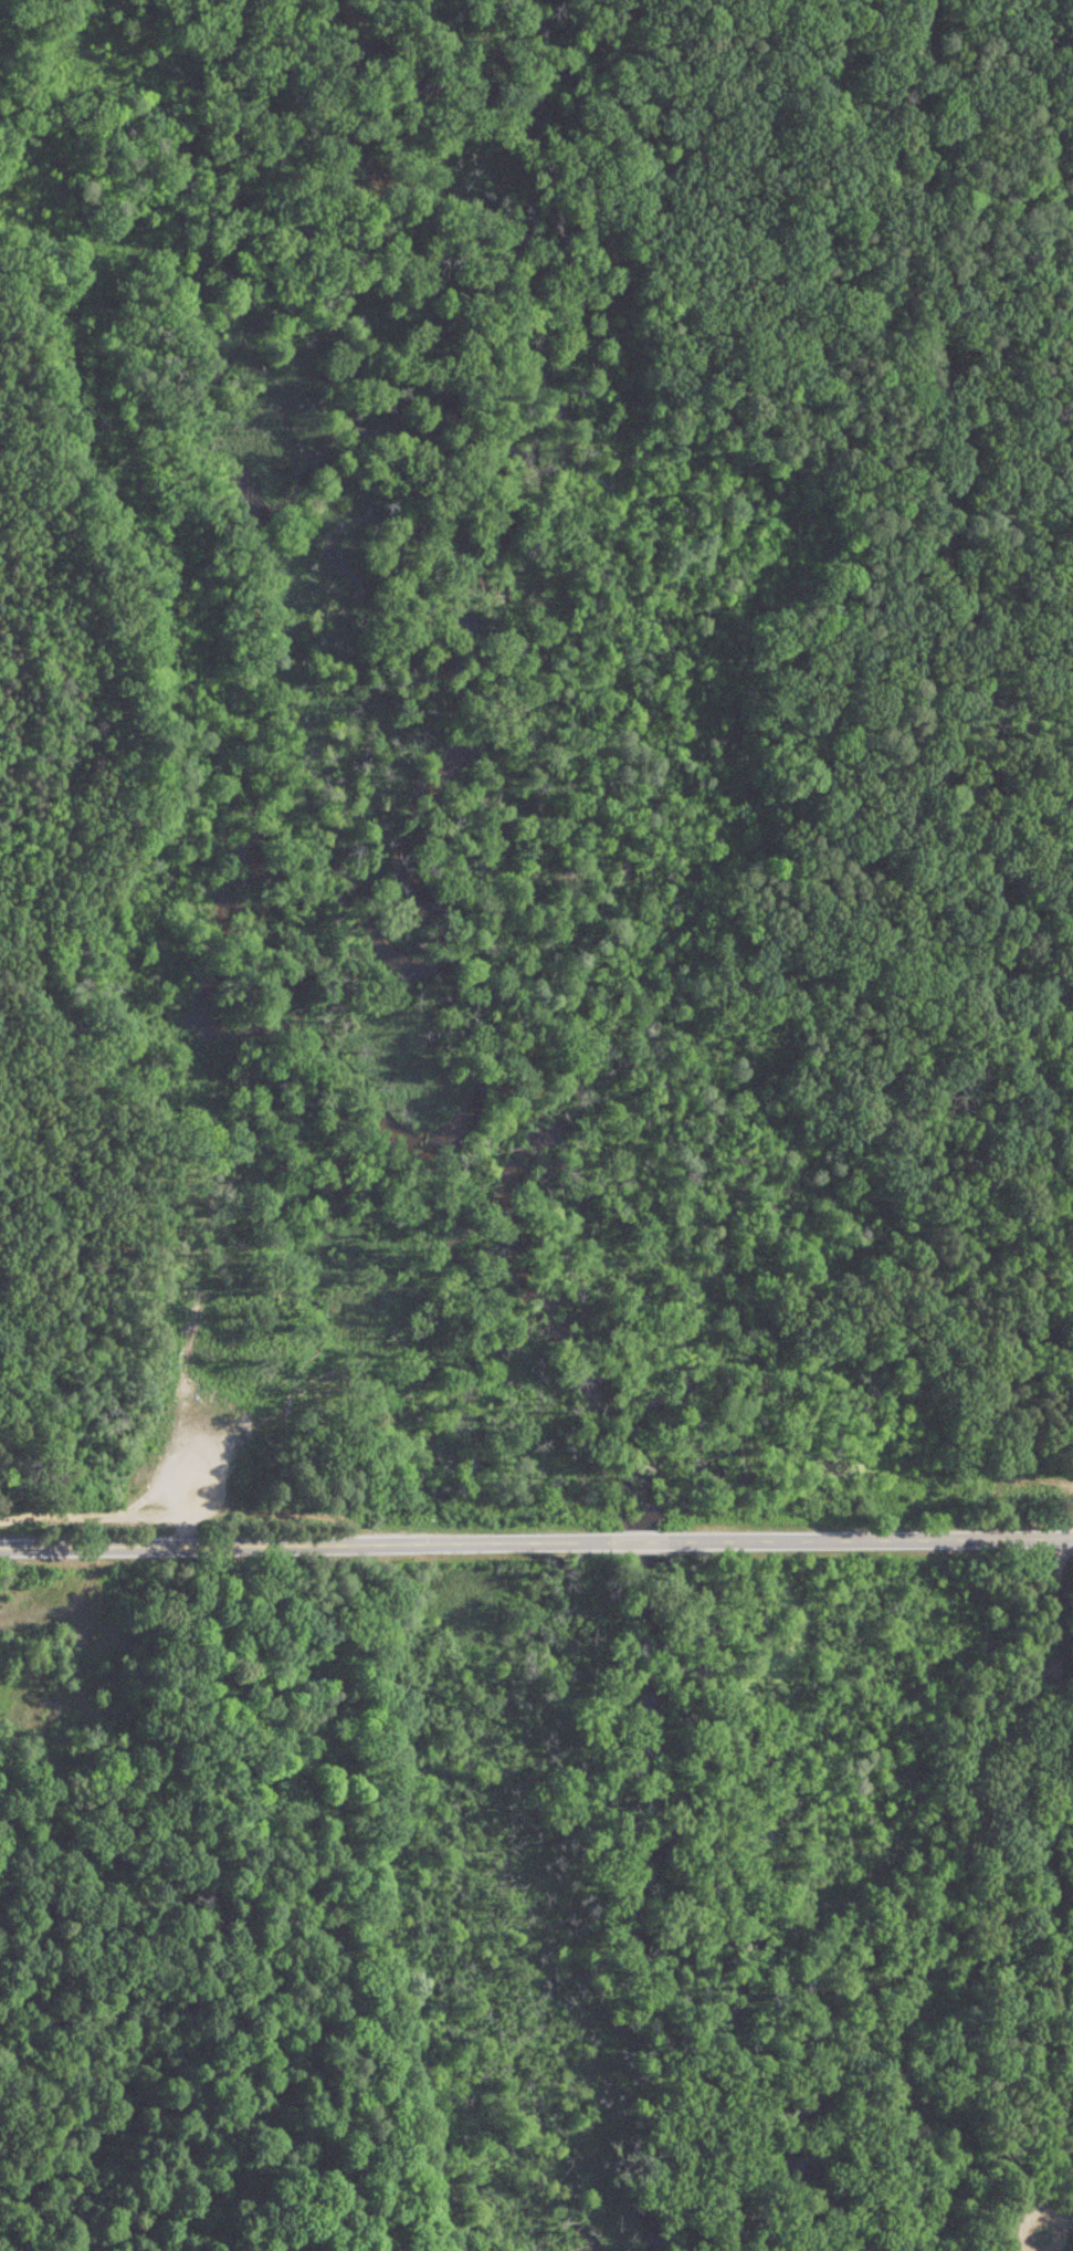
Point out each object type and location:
road: (929, 514)
road: (837, 1083)
road: (879, 1532)
road: (637, 1535)
road: (295, 1540)

